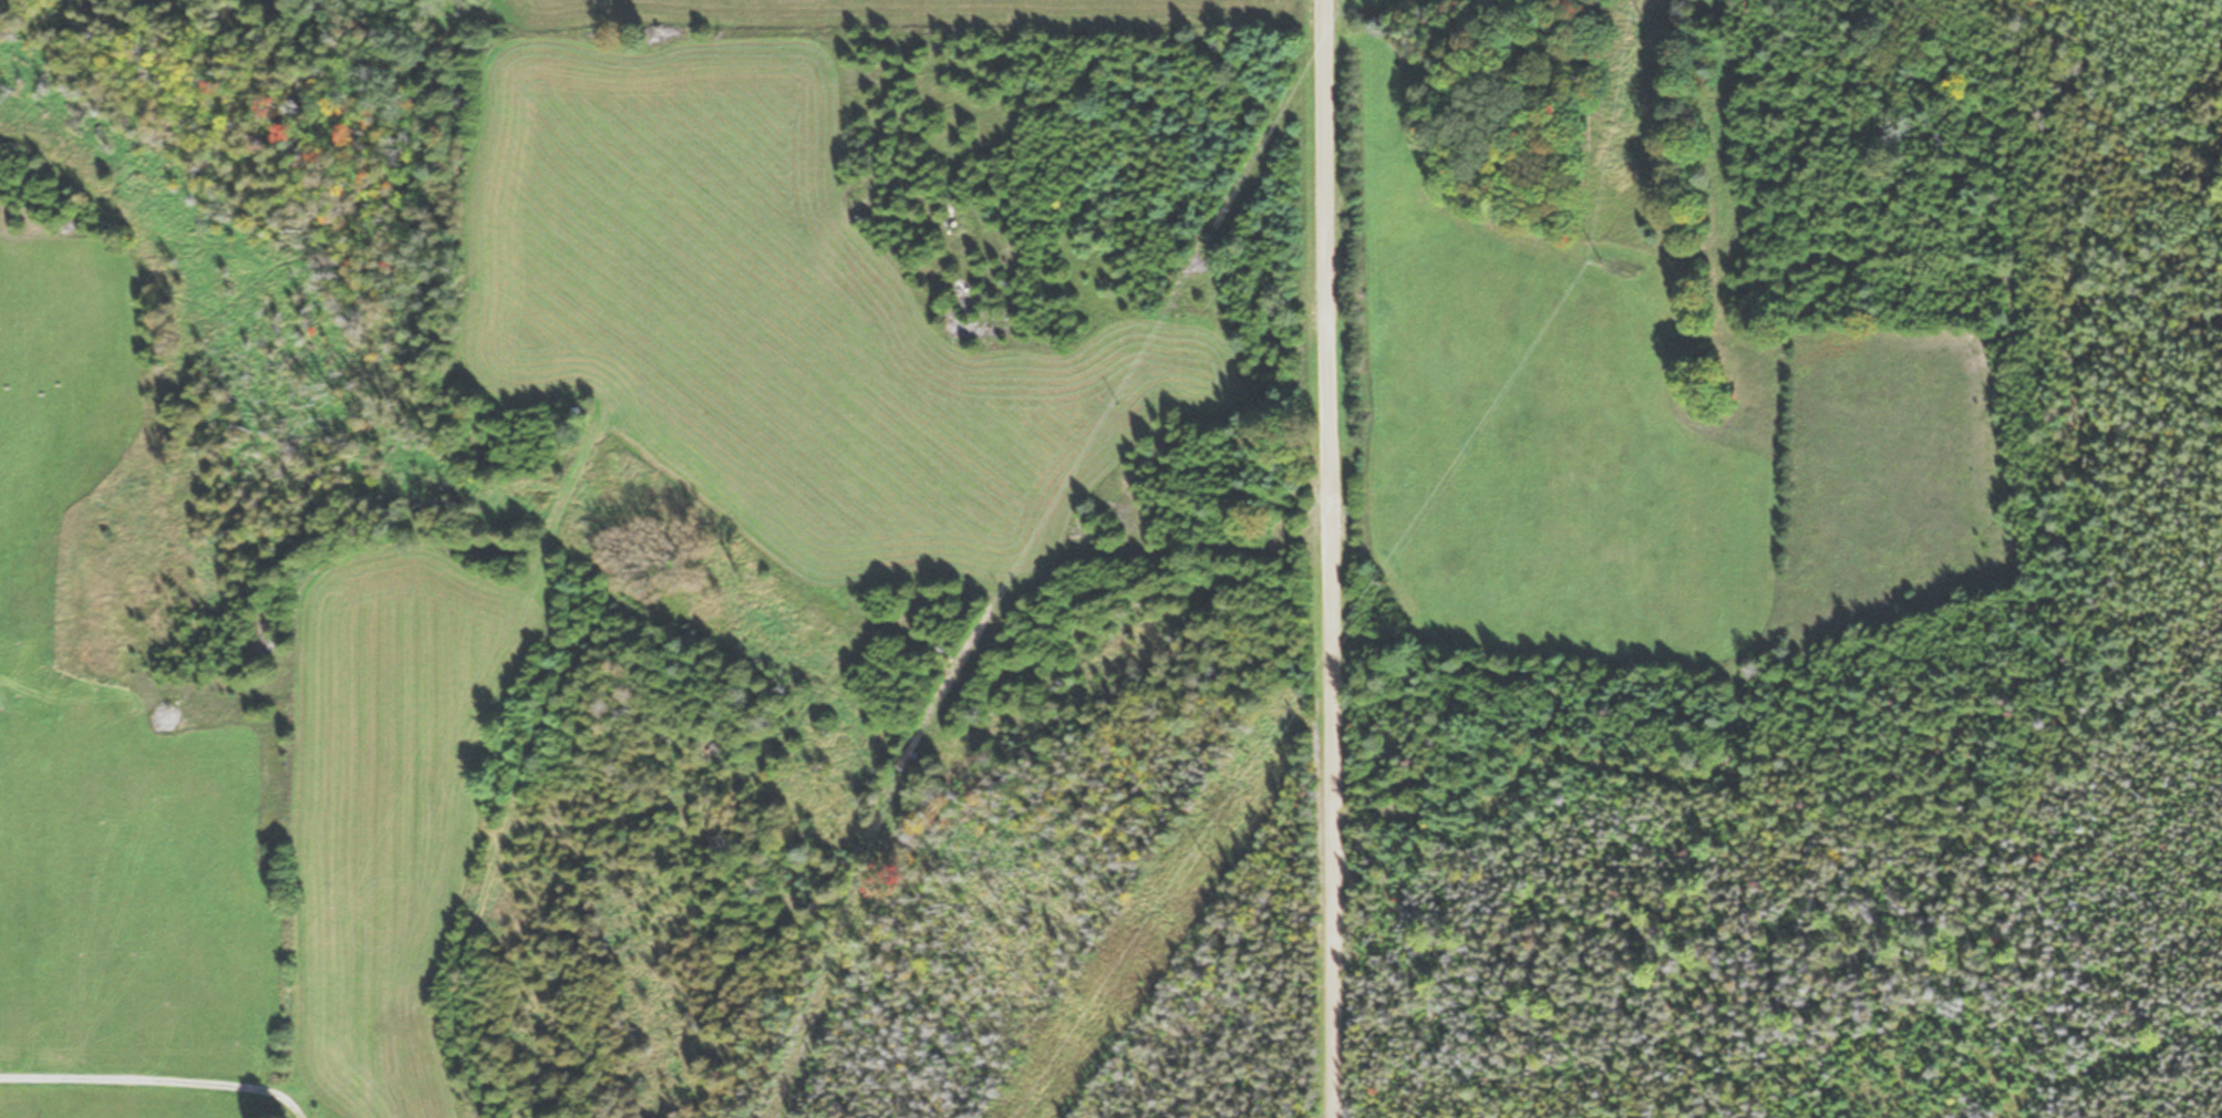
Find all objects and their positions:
road: (1327, 558)
road: (154, 1090)

